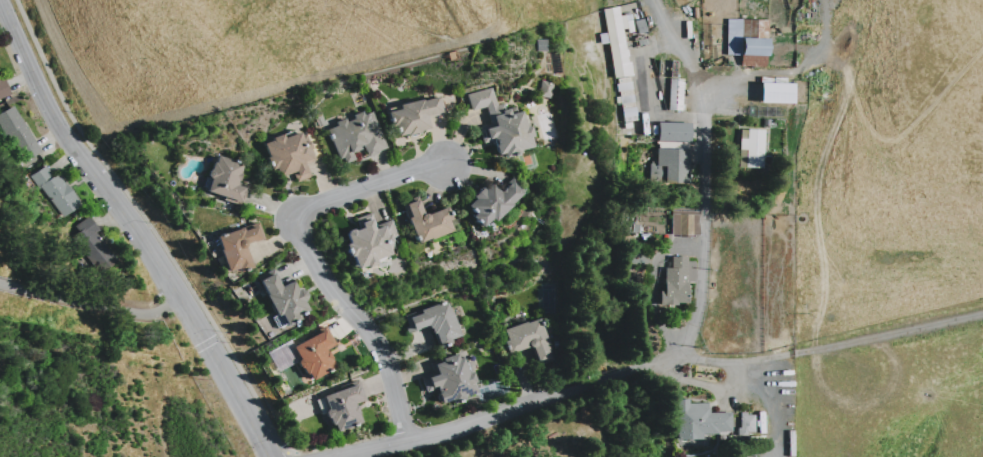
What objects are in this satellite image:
building: (615, 39)
building: (746, 40)
building: (666, 69)
road: (722, 85)
building: (544, 89)
building: (1, 91)
building: (774, 92)
building: (673, 94)
building: (625, 98)
building: (412, 115)
building: (499, 124)
building: (672, 131)
building: (18, 134)
building: (355, 136)
building: (749, 148)
building: (289, 154)
building: (668, 166)
building: (224, 180)
building: (55, 191)
building: (489, 202)
building: (424, 220)
building: (683, 222)
road: (134, 230)
building: (368, 240)
building: (92, 244)
building: (236, 246)
road: (311, 253)
building: (676, 281)
building: (281, 299)
road: (90, 303)
road: (695, 314)
building: (432, 321)
building: (526, 339)
road: (832, 343)
building: (313, 353)
building: (448, 378)
building: (491, 390)
building: (341, 406)
building: (697, 420)
building: (745, 422)
park: (566, 432)
road: (371, 448)
road: (980, 452)

